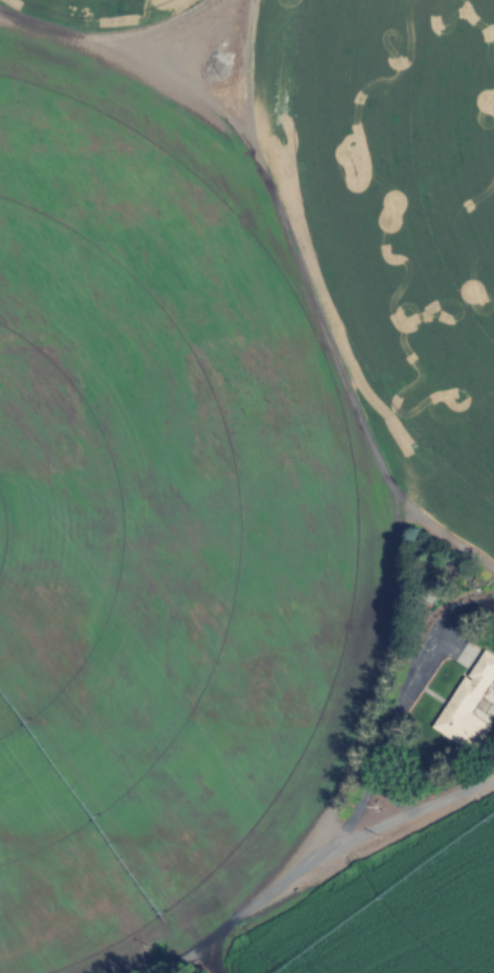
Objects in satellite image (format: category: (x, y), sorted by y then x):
crop: (407, 198)
crop: (131, 523)
building: (467, 705)

